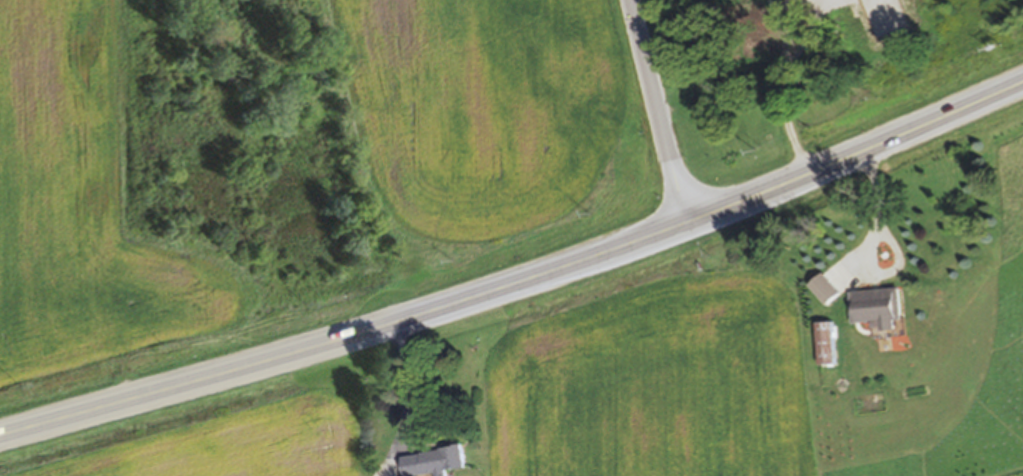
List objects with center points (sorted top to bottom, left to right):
building: (818, 93)
road: (657, 111)
road: (874, 243)
road: (519, 283)
building: (824, 292)
building: (876, 310)
building: (826, 346)
road: (407, 394)
building: (434, 464)

